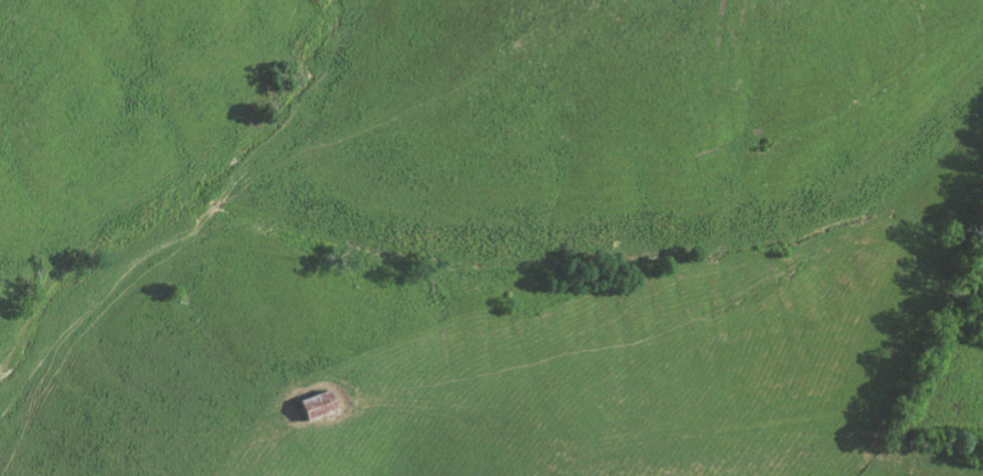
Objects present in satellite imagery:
building: (319, 405)

